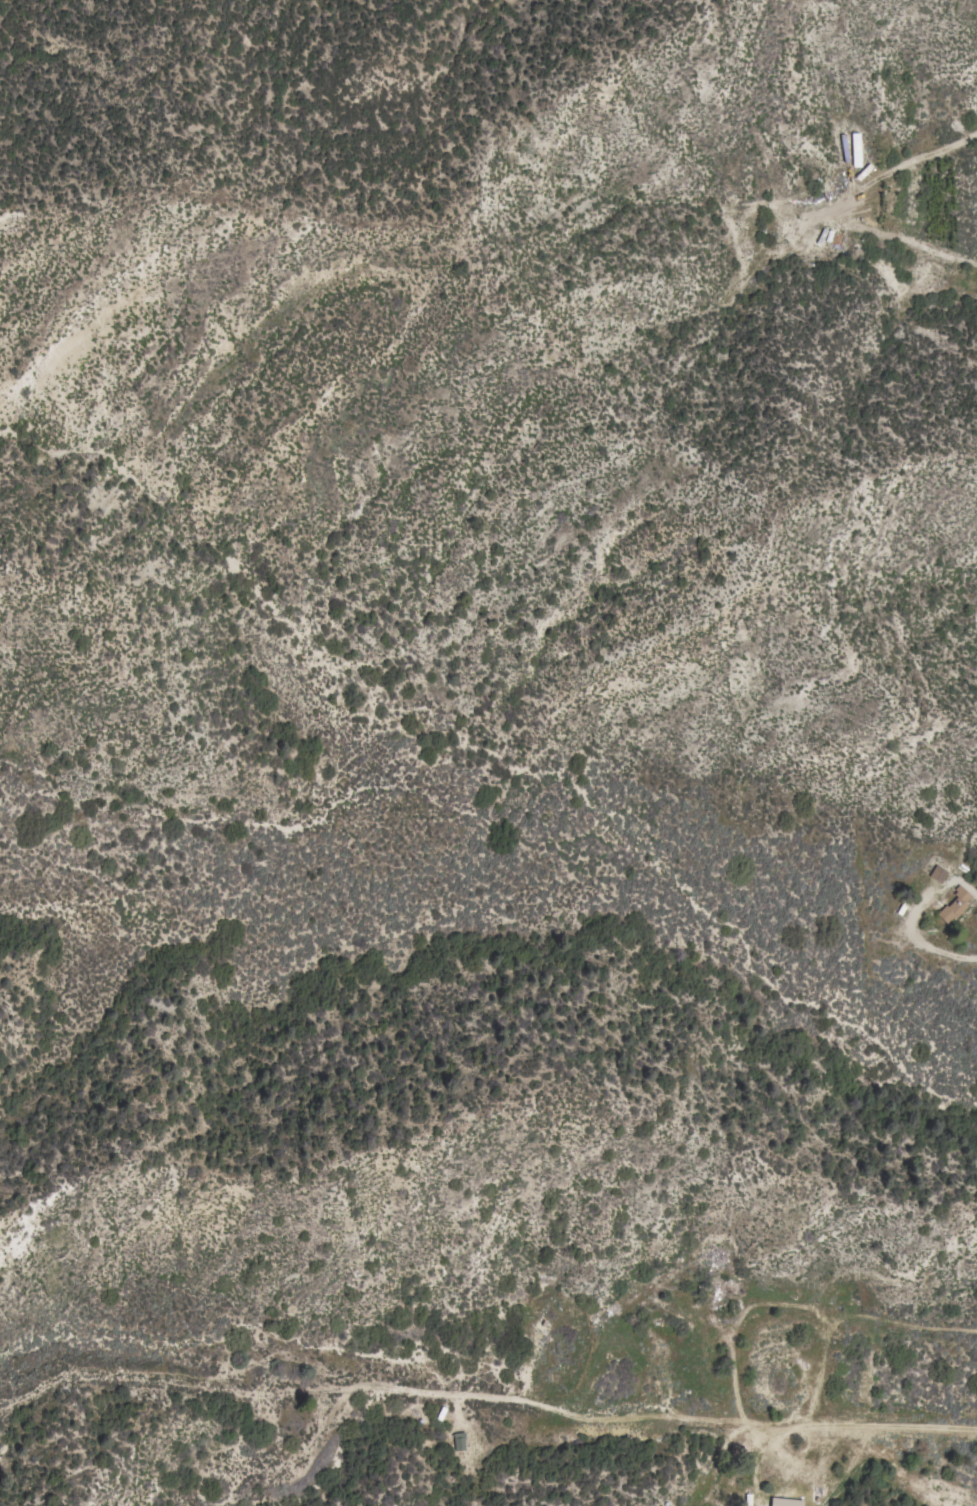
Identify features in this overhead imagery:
building: (937, 874)
road: (976, 897)
building: (953, 905)
road: (715, 1420)
building: (458, 1441)
building: (786, 1502)

